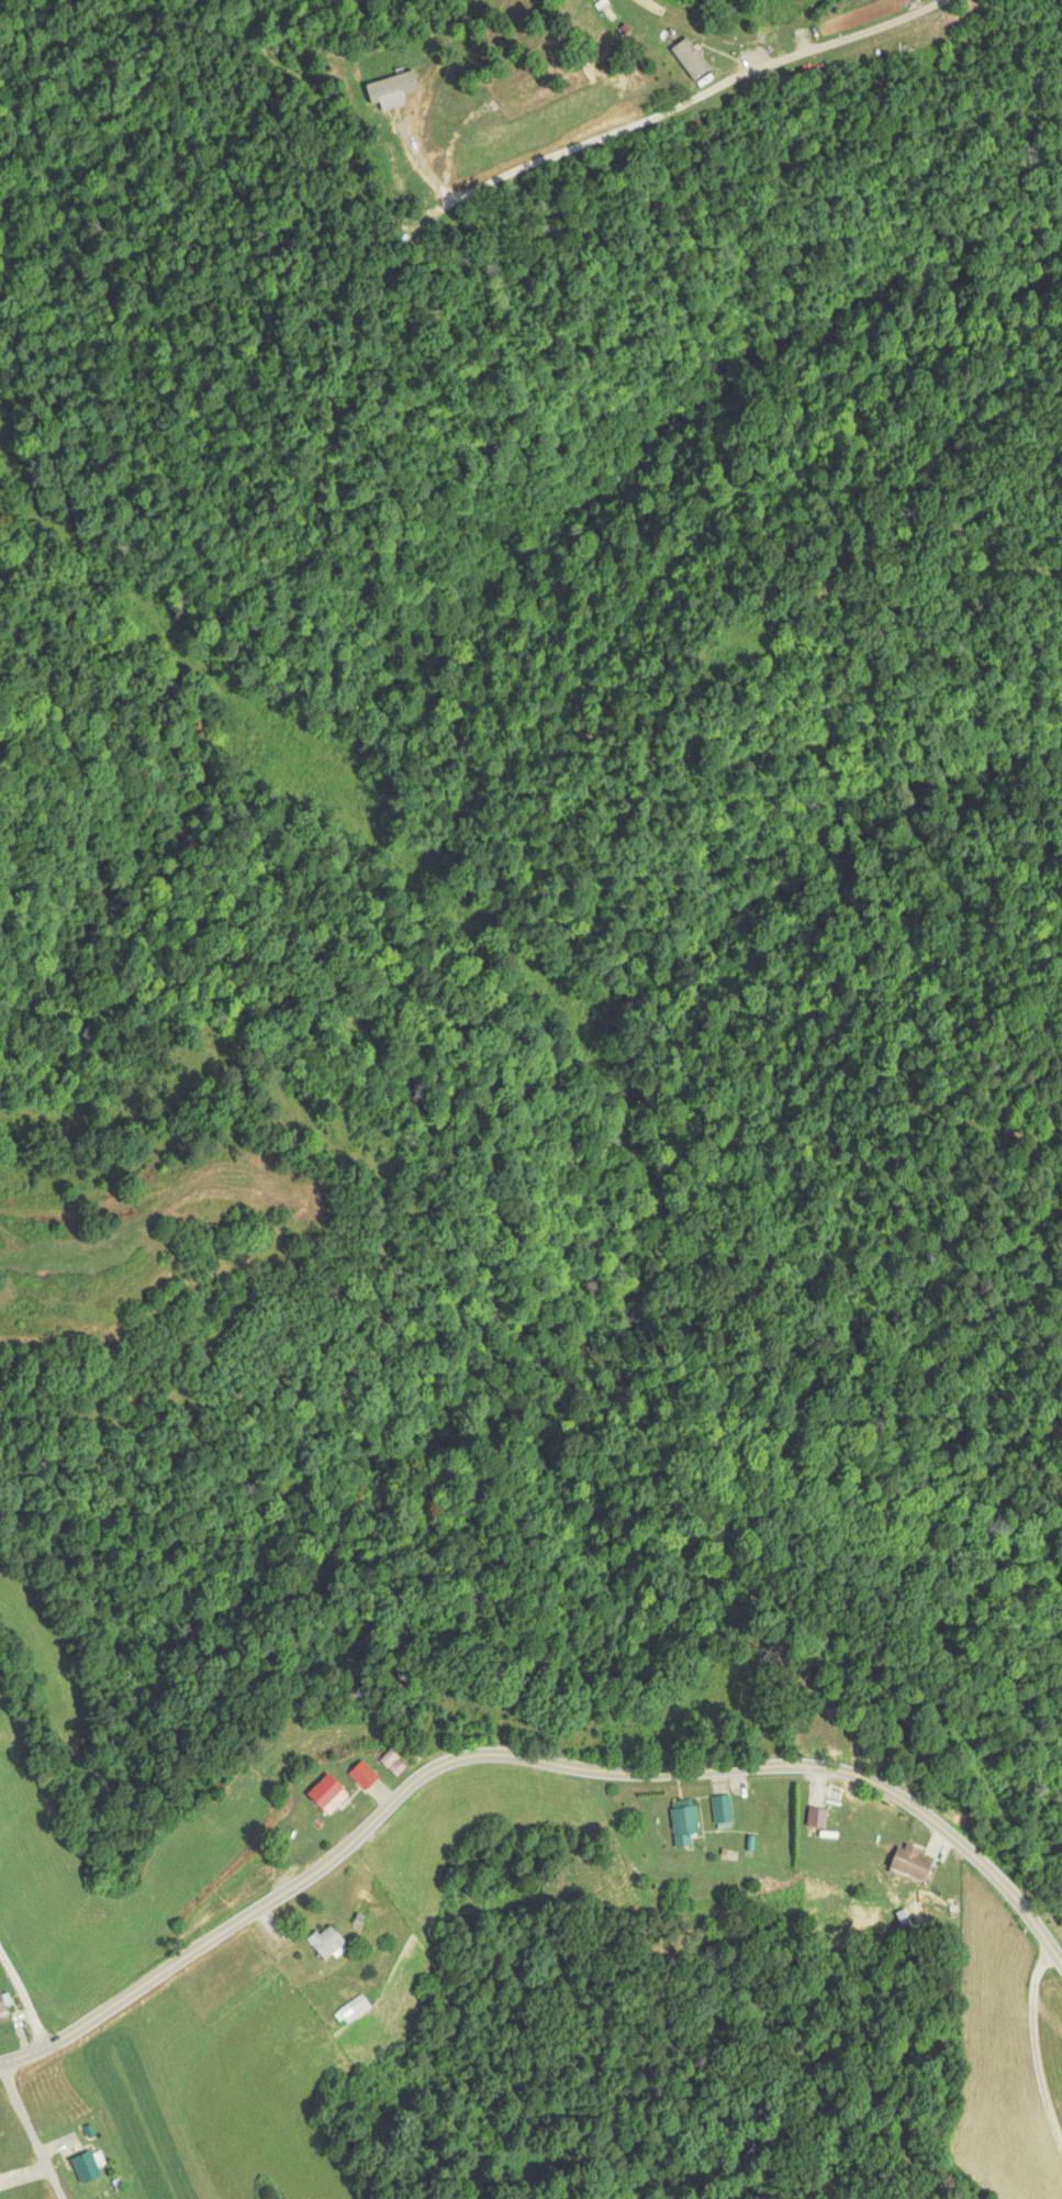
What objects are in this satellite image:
road: (555, 149)
building: (395, 166)
building: (389, 1759)
road: (547, 1767)
building: (361, 1774)
building: (326, 1792)
building: (835, 1792)
building: (723, 1810)
building: (683, 1822)
building: (910, 1864)
building: (324, 1940)
building: (2, 2003)
building: (351, 2009)
road: (22, 2014)
road: (25, 2057)
road: (3, 2065)
road: (30, 2133)
building: (86, 2165)

